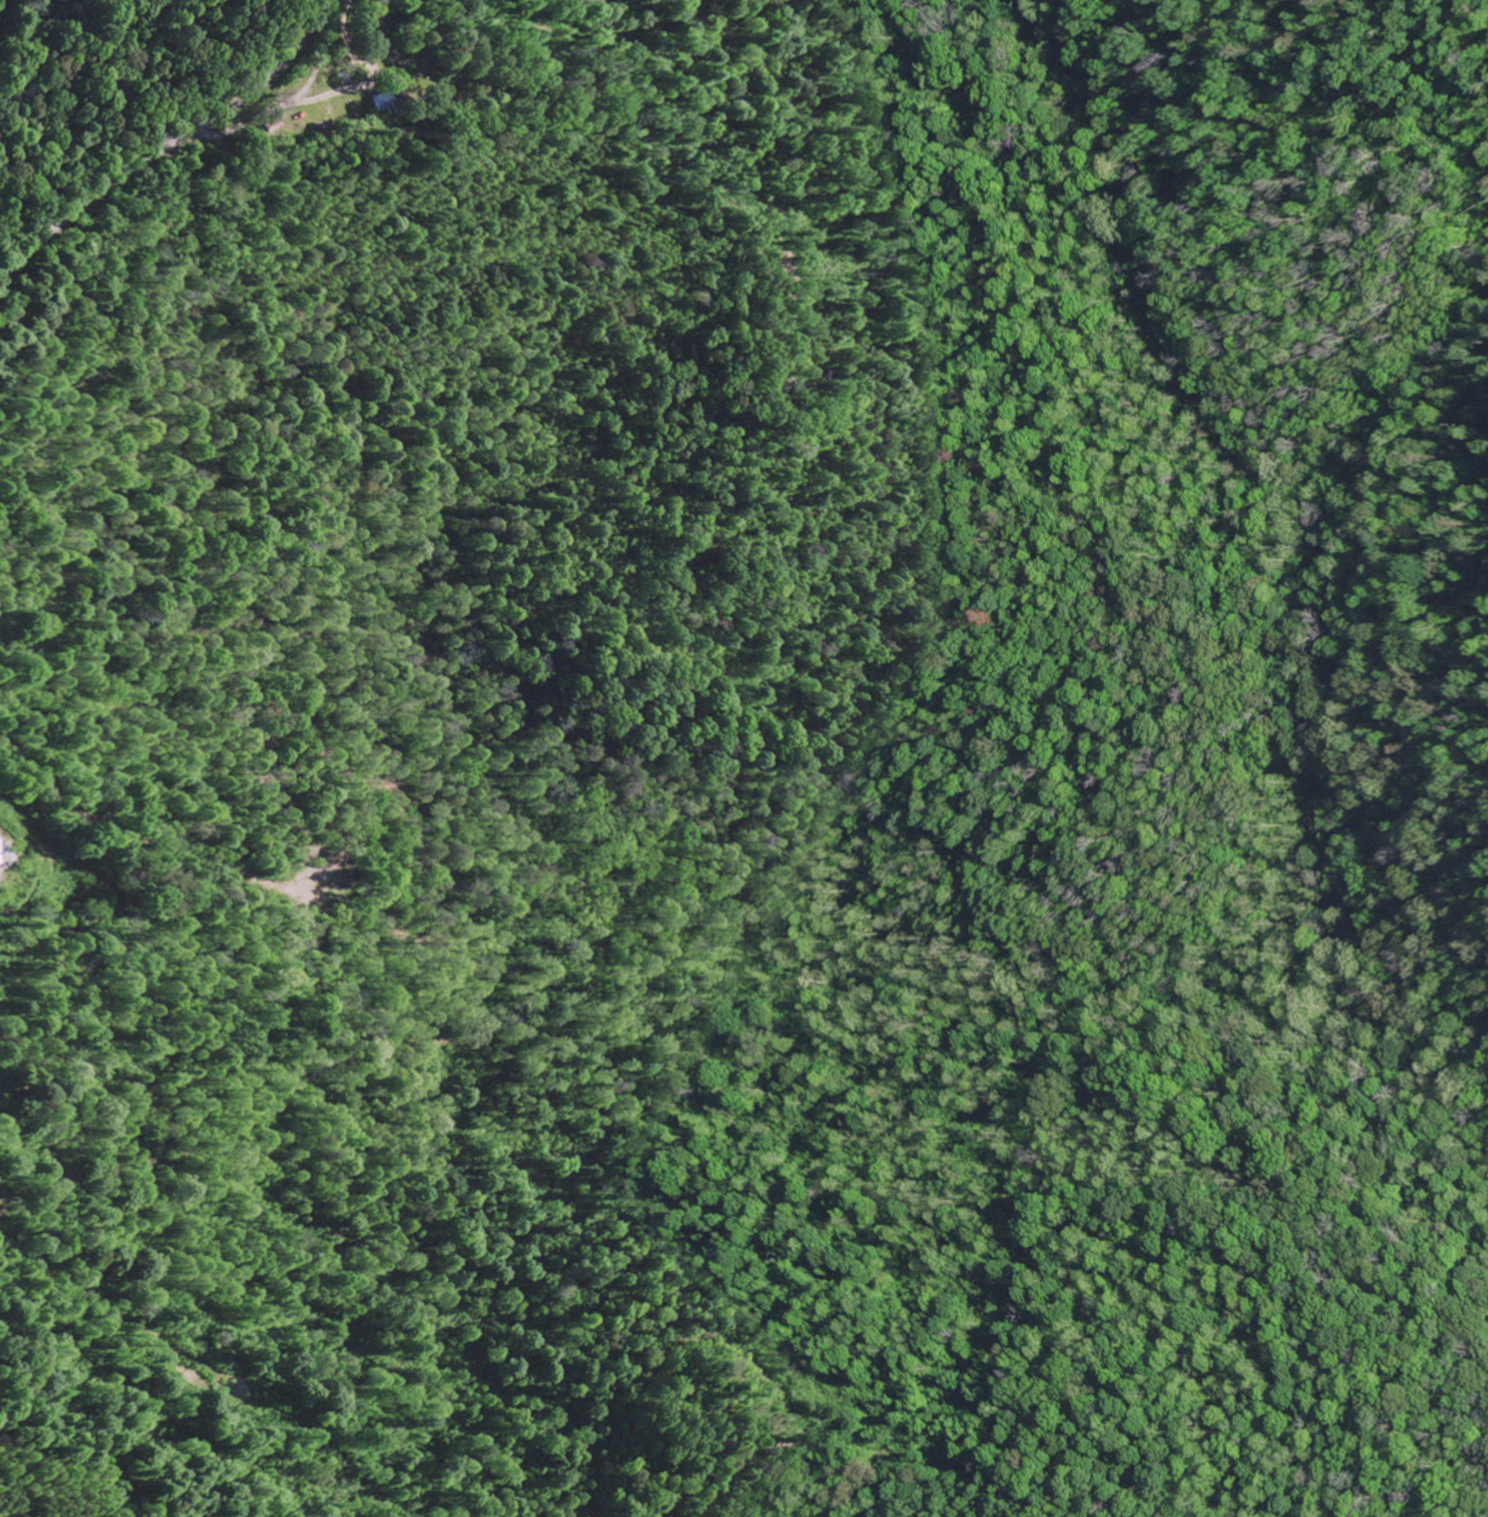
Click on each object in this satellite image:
road: (169, 143)

